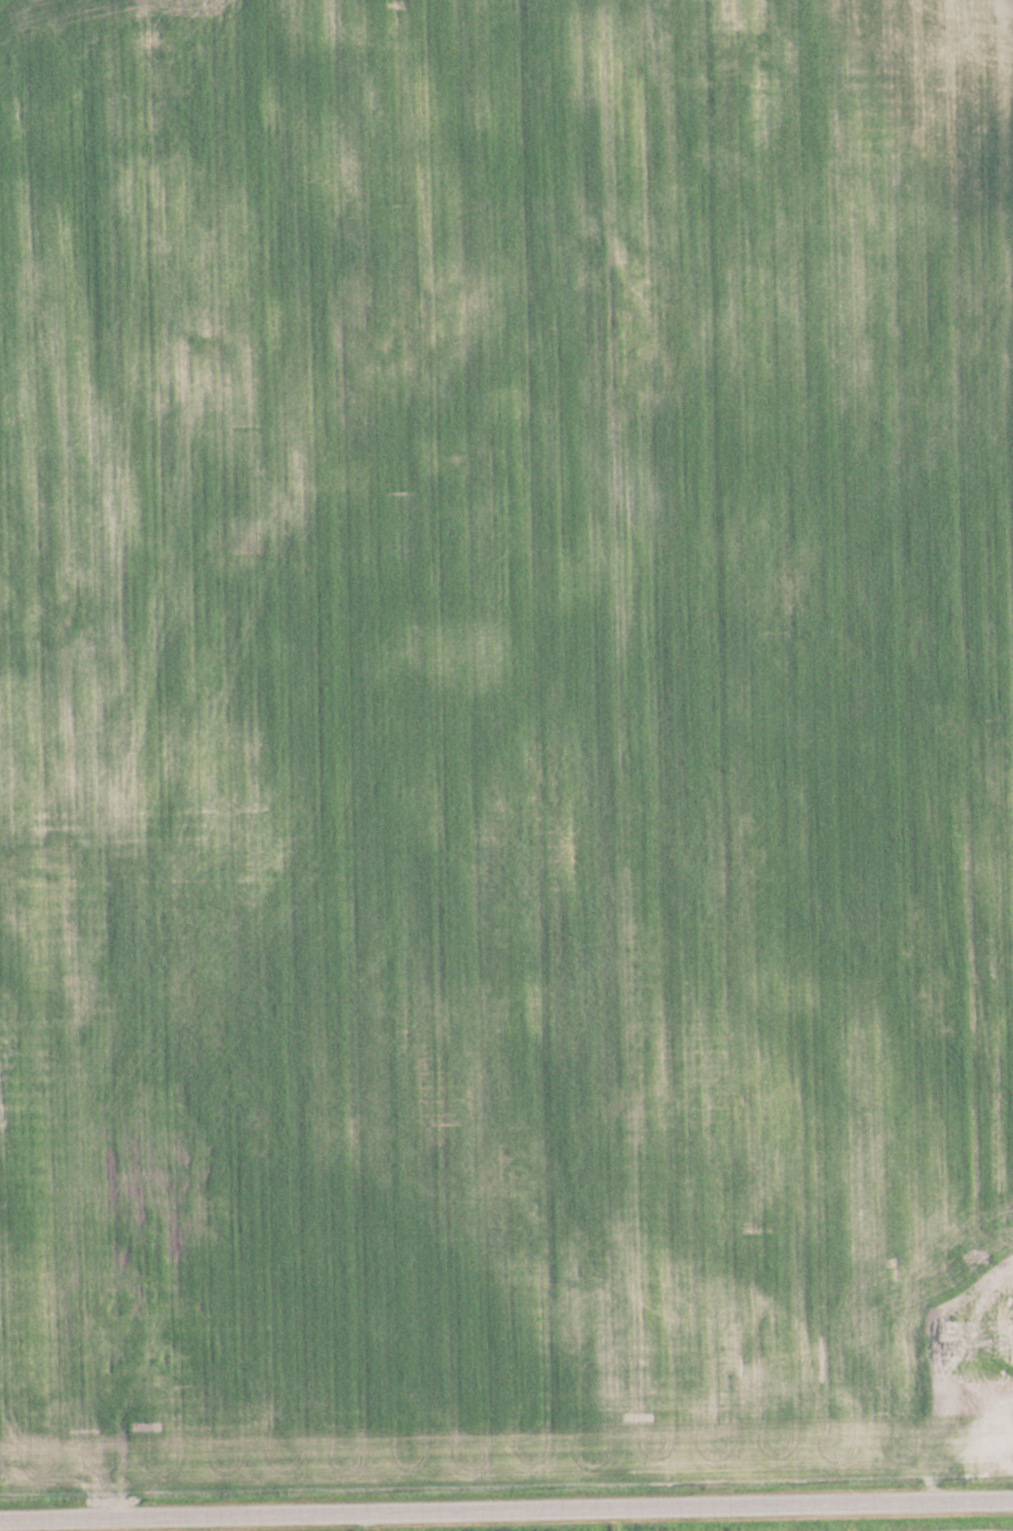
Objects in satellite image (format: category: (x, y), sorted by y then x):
building: (1010, 1331)
building: (990, 1429)
building: (86, 1452)
road: (506, 1512)

